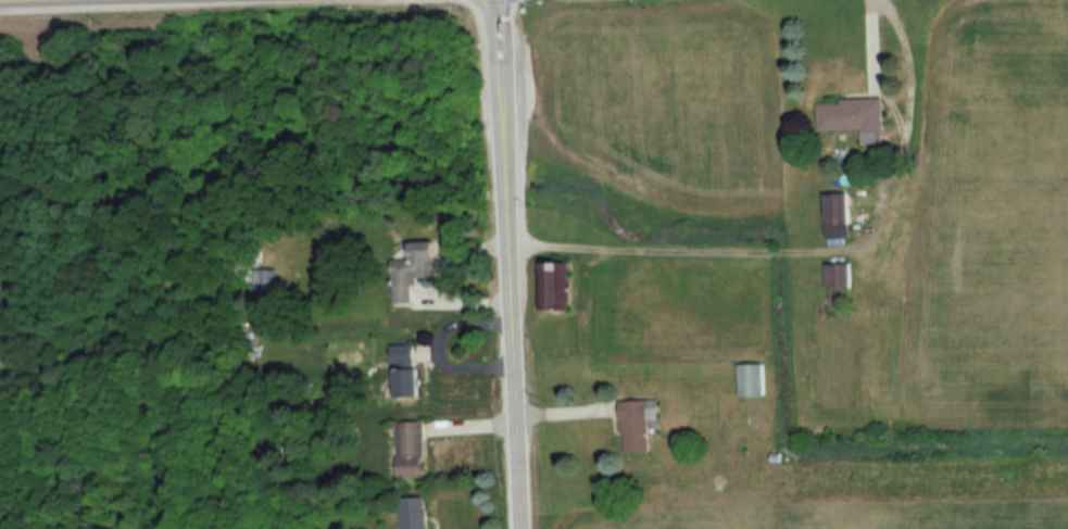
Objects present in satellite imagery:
road: (48, 1)
road: (887, 77)
crop: (661, 101)
building: (852, 117)
building: (833, 214)
crop: (991, 222)
road: (511, 264)
building: (412, 268)
building: (835, 275)
building: (264, 278)
building: (552, 285)
building: (403, 369)
building: (749, 379)
building: (634, 424)
building: (409, 448)
building: (412, 513)
crop: (840, 515)

